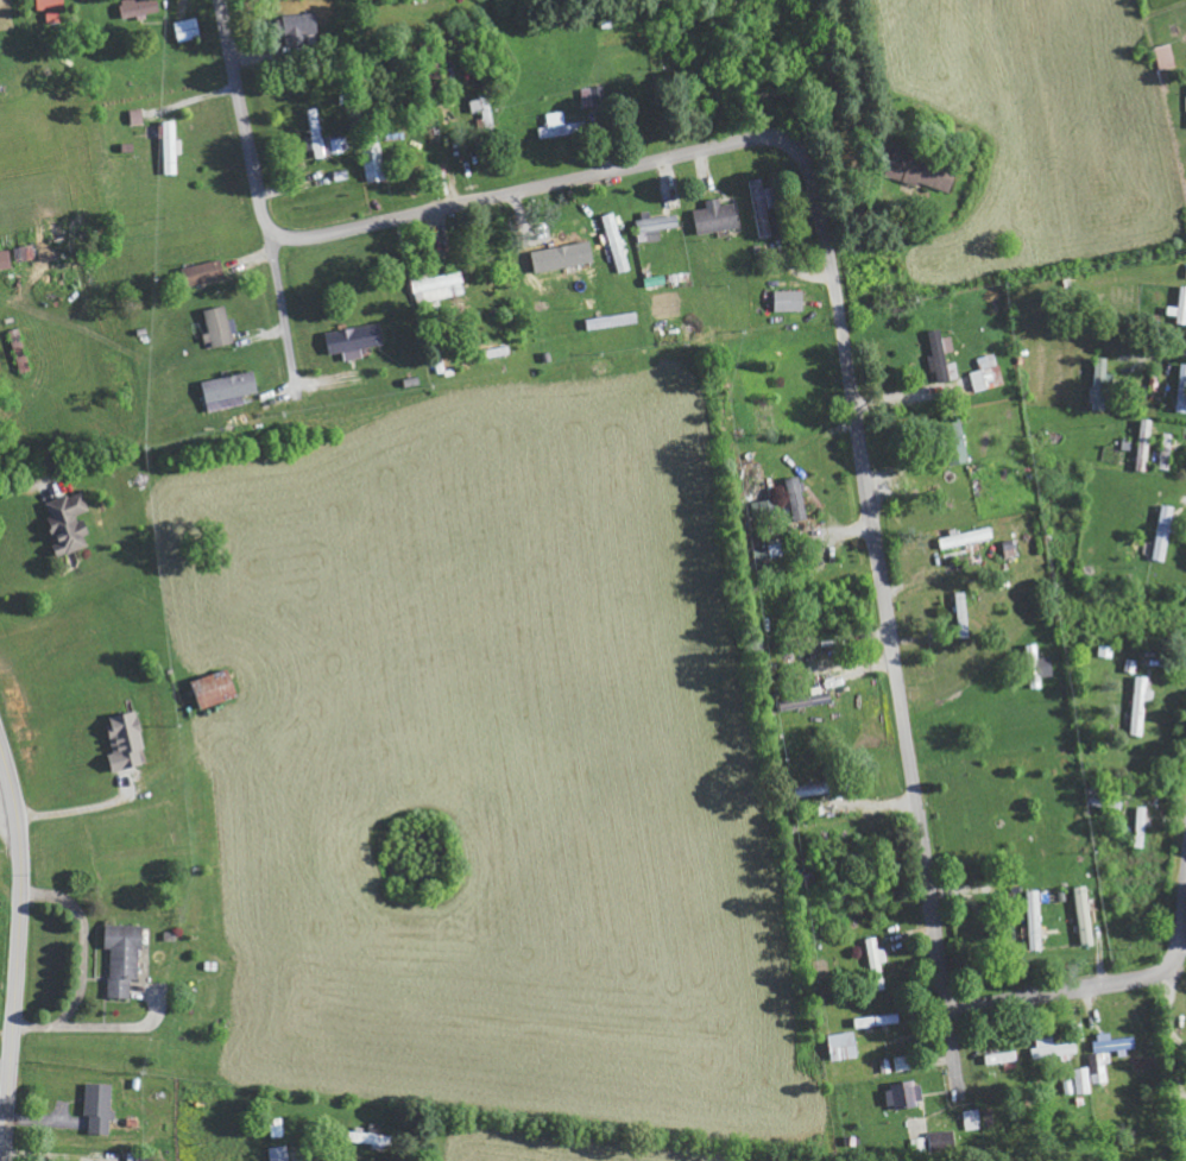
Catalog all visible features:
building: (51, 5)
building: (140, 7)
building: (301, 27)
building: (189, 30)
building: (1165, 57)
building: (594, 96)
building: (484, 108)
building: (139, 116)
building: (561, 126)
building: (317, 133)
building: (341, 145)
building: (172, 147)
building: (377, 163)
building: (926, 172)
building: (764, 206)
building: (718, 216)
building: (657, 226)
building: (551, 254)
building: (208, 272)
building: (440, 286)
building: (791, 301)
building: (1180, 308)
building: (219, 328)
building: (357, 340)
road: (840, 342)
building: (21, 351)
building: (942, 356)
building: (988, 373)
building: (1102, 384)
building: (233, 386)
building: (1182, 389)
building: (1144, 444)
building: (1167, 452)
building: (799, 499)
building: (71, 523)
building: (1166, 531)
building: (967, 538)
building: (963, 610)
building: (1048, 667)
building: (217, 689)
building: (808, 700)
building: (1141, 703)
building: (127, 742)
building: (820, 788)
building: (1141, 827)
building: (1084, 915)
building: (1036, 920)
road: (19, 947)
building: (876, 955)
building: (125, 958)
road: (7, 1008)
building: (877, 1021)
building: (1115, 1045)
building: (844, 1046)
building: (1054, 1049)
building: (1002, 1058)
building: (904, 1064)
building: (1091, 1073)
building: (909, 1096)
building: (101, 1108)
building: (972, 1119)
building: (278, 1128)
building: (374, 1140)
building: (945, 1142)
building: (280, 1154)

